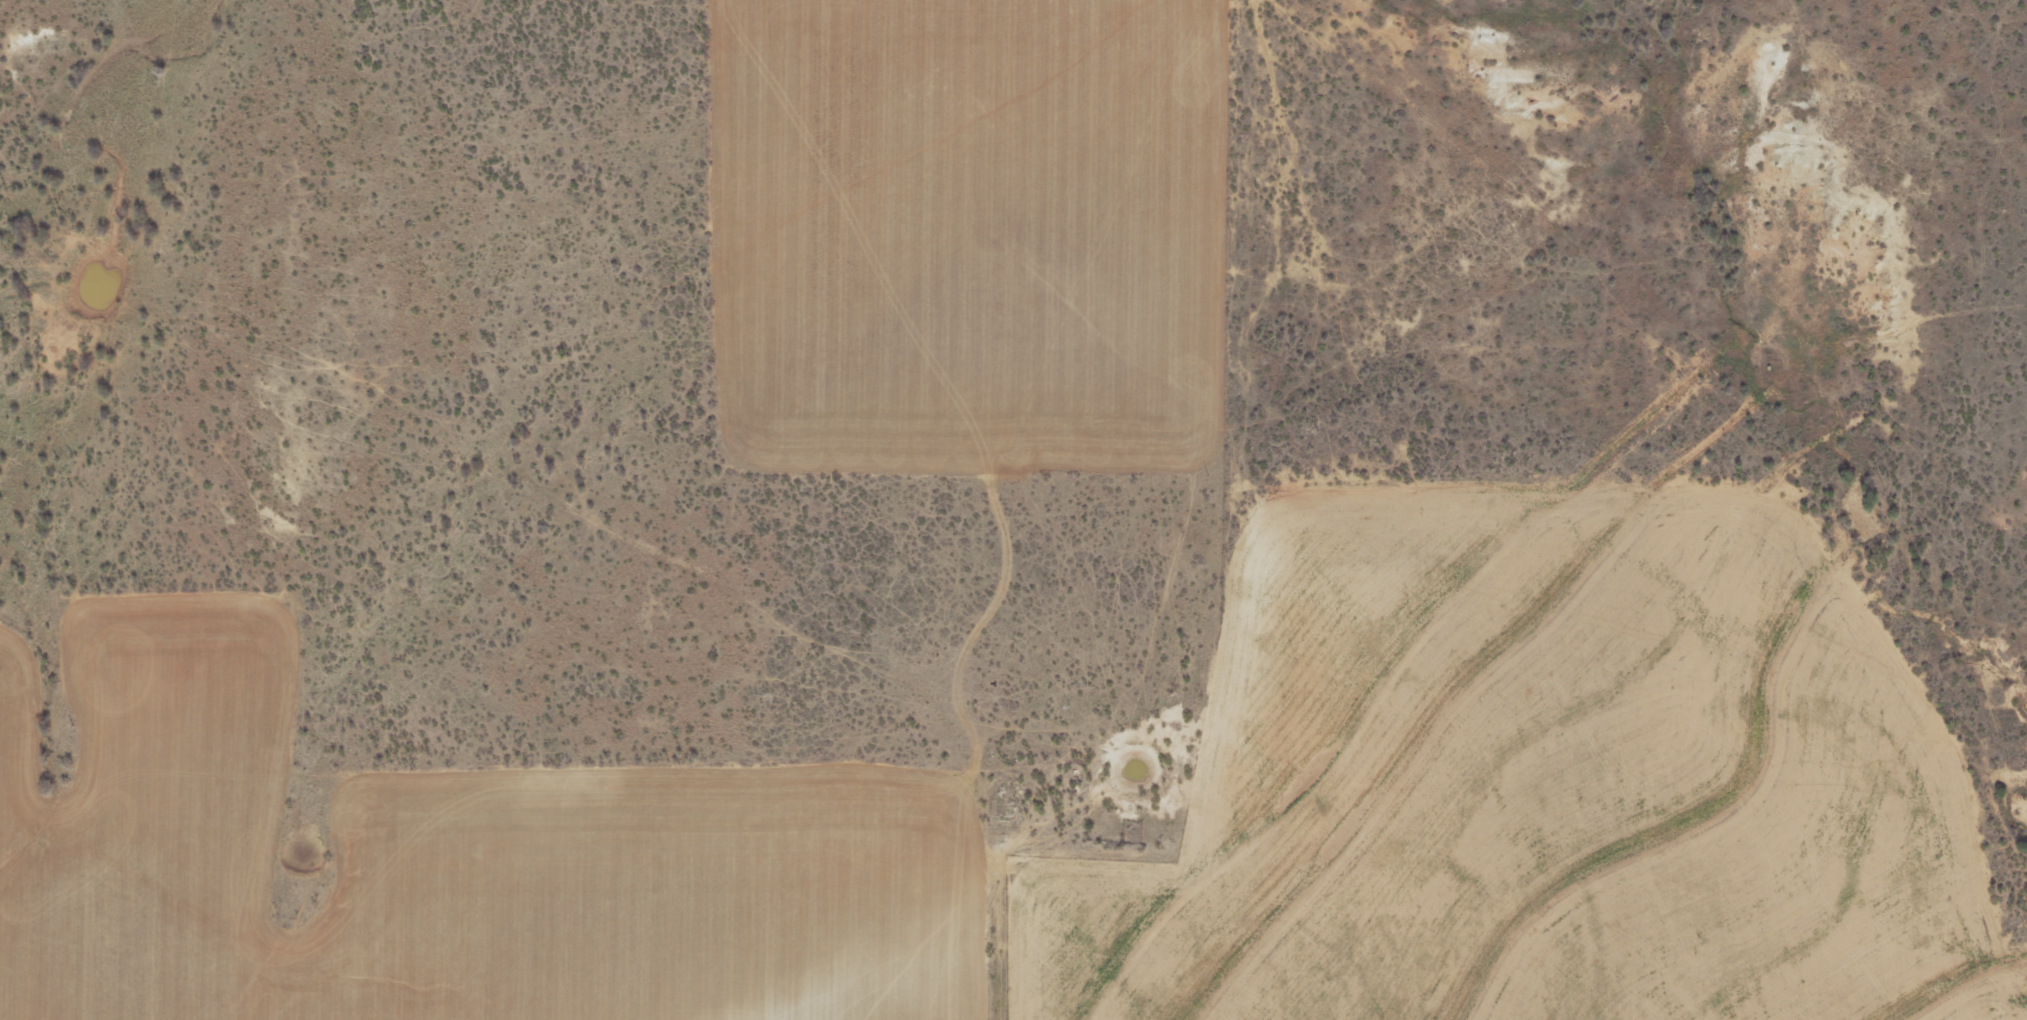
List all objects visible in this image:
road: (959, 966)

